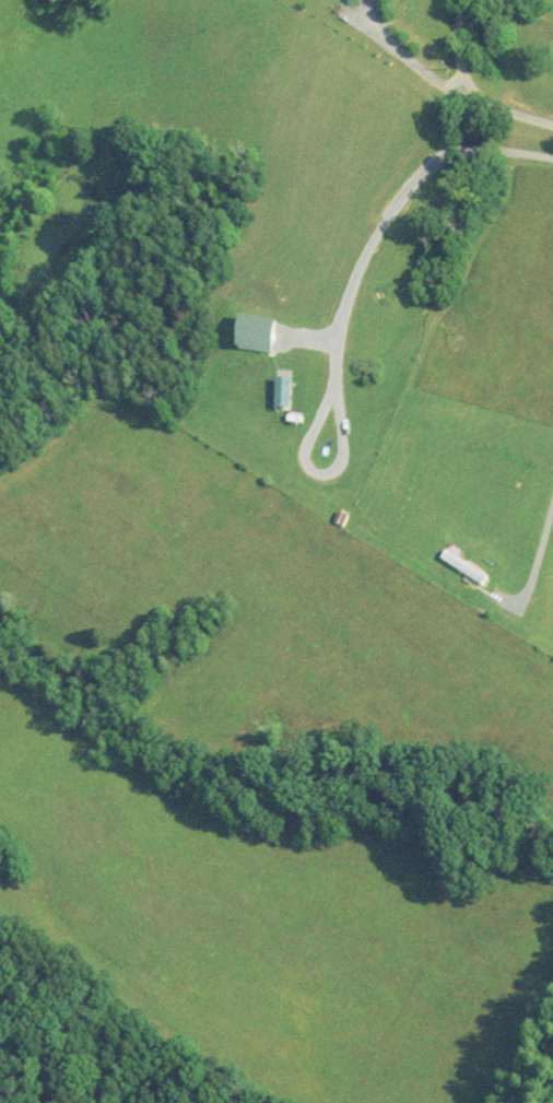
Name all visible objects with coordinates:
road: (402, 60)
road: (463, 93)
road: (400, 197)
road: (539, 554)
building: (466, 567)

